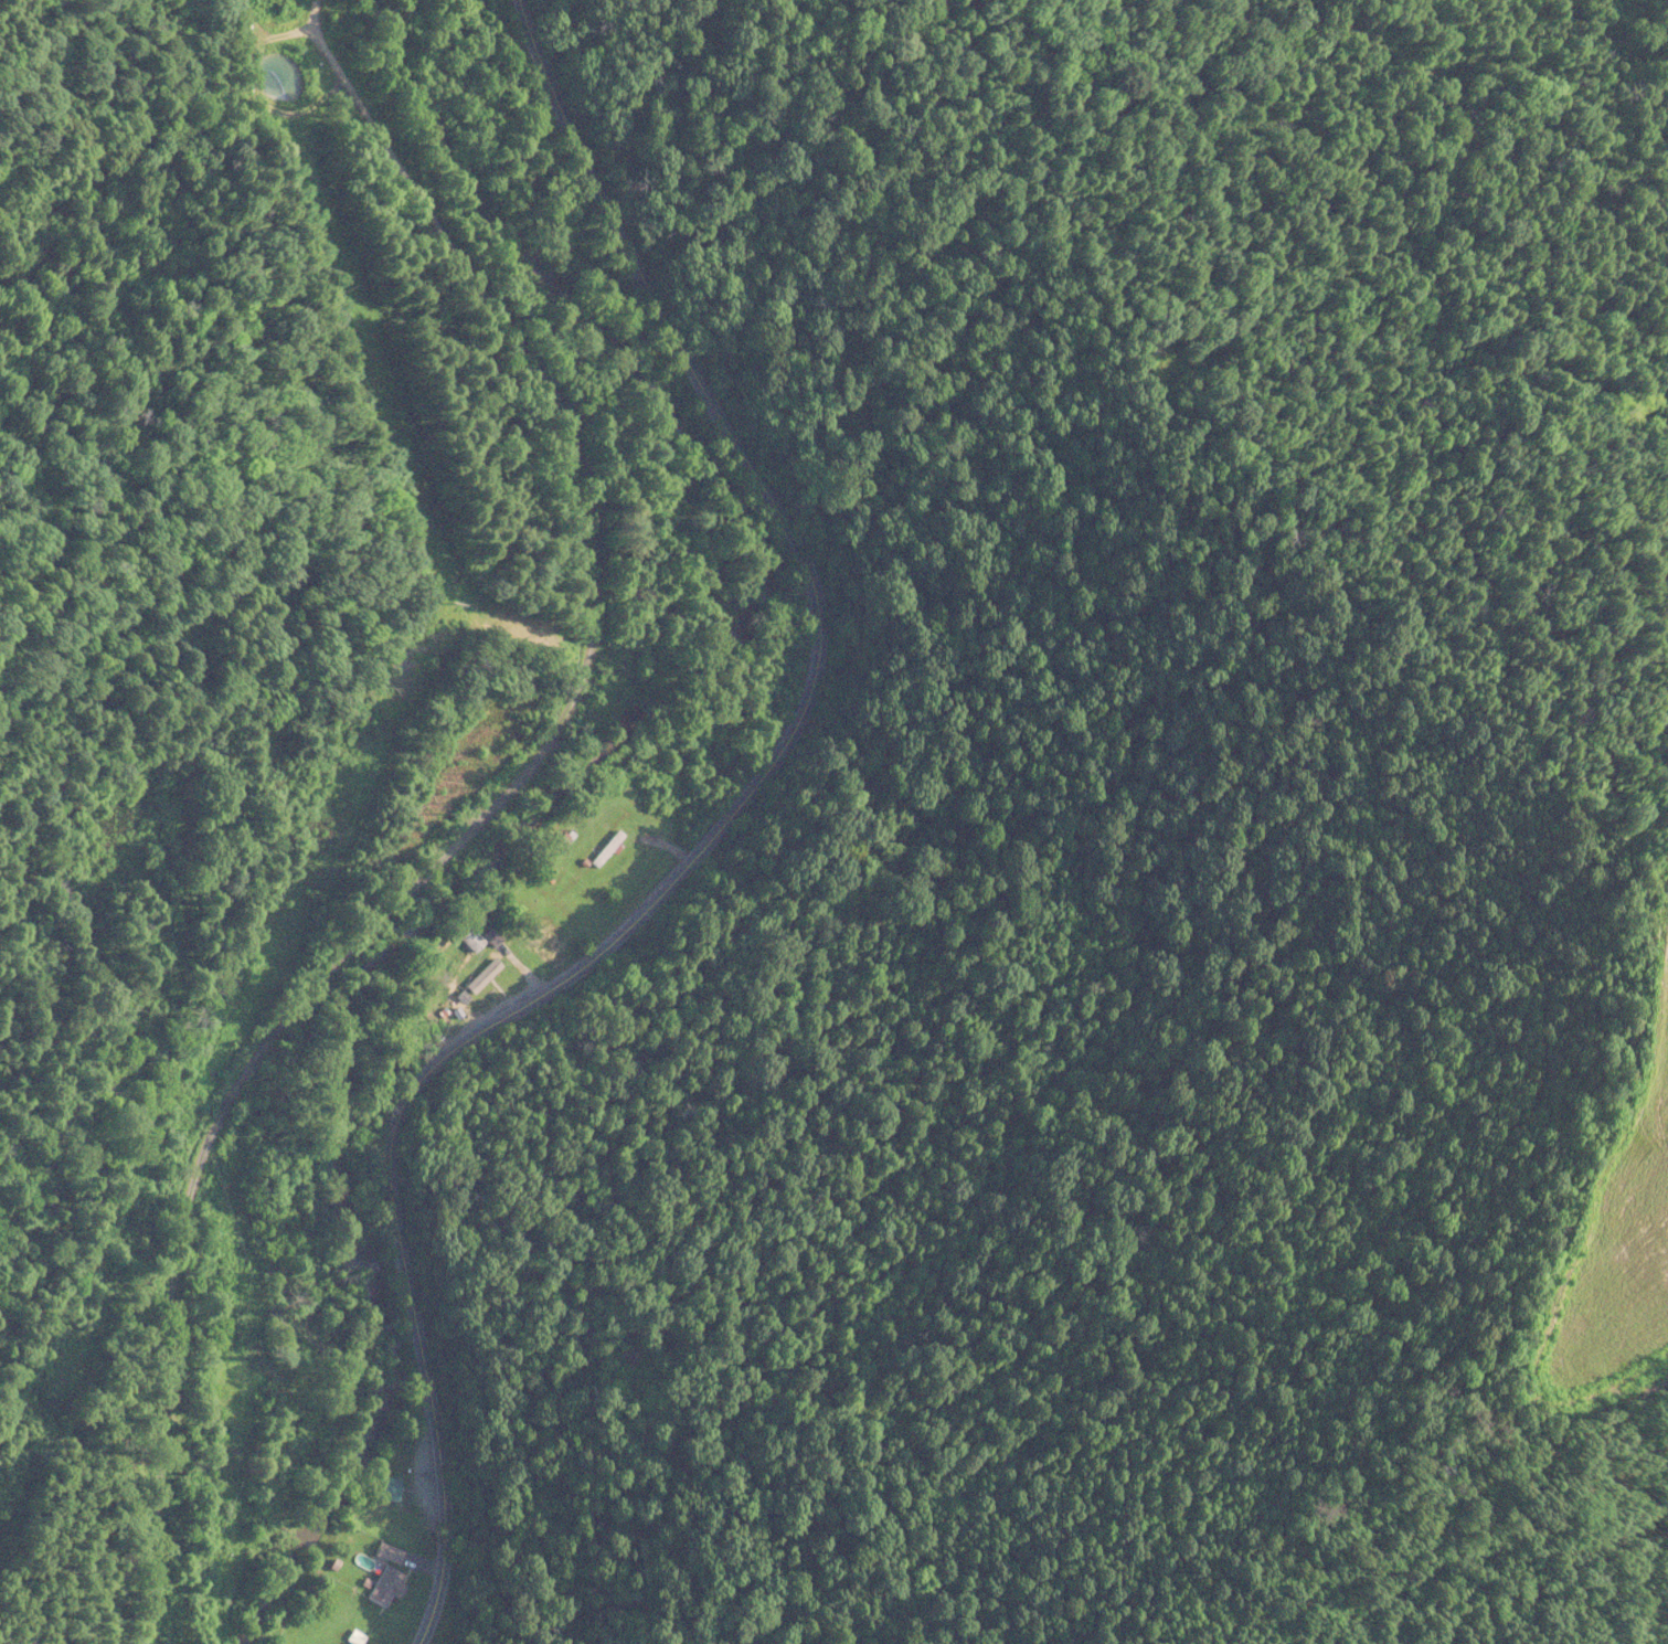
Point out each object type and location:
road: (698, 841)
building: (605, 849)
building: (469, 940)
building: (544, 944)
building: (482, 976)
quarry: (1608, 1235)
building: (382, 1489)
building: (384, 1553)
building: (383, 1587)
building: (343, 1643)

